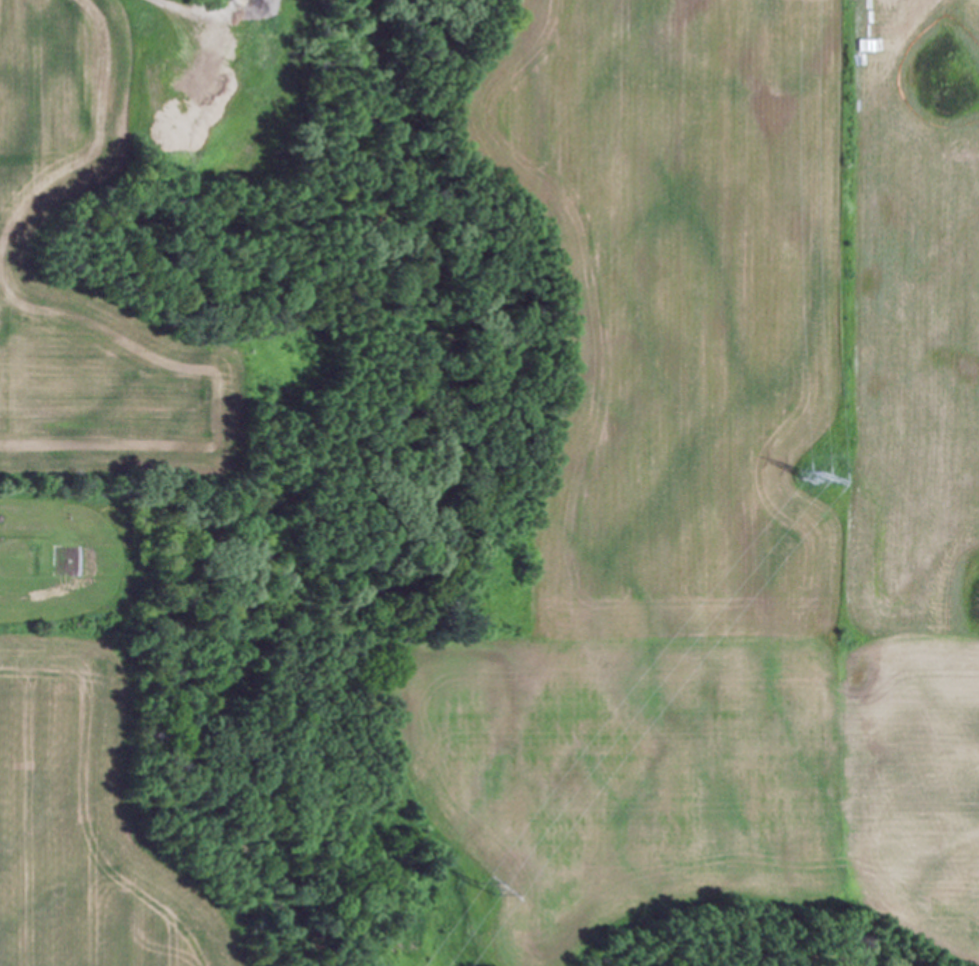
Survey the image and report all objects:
power tower: (816, 481)
power tower: (495, 891)

